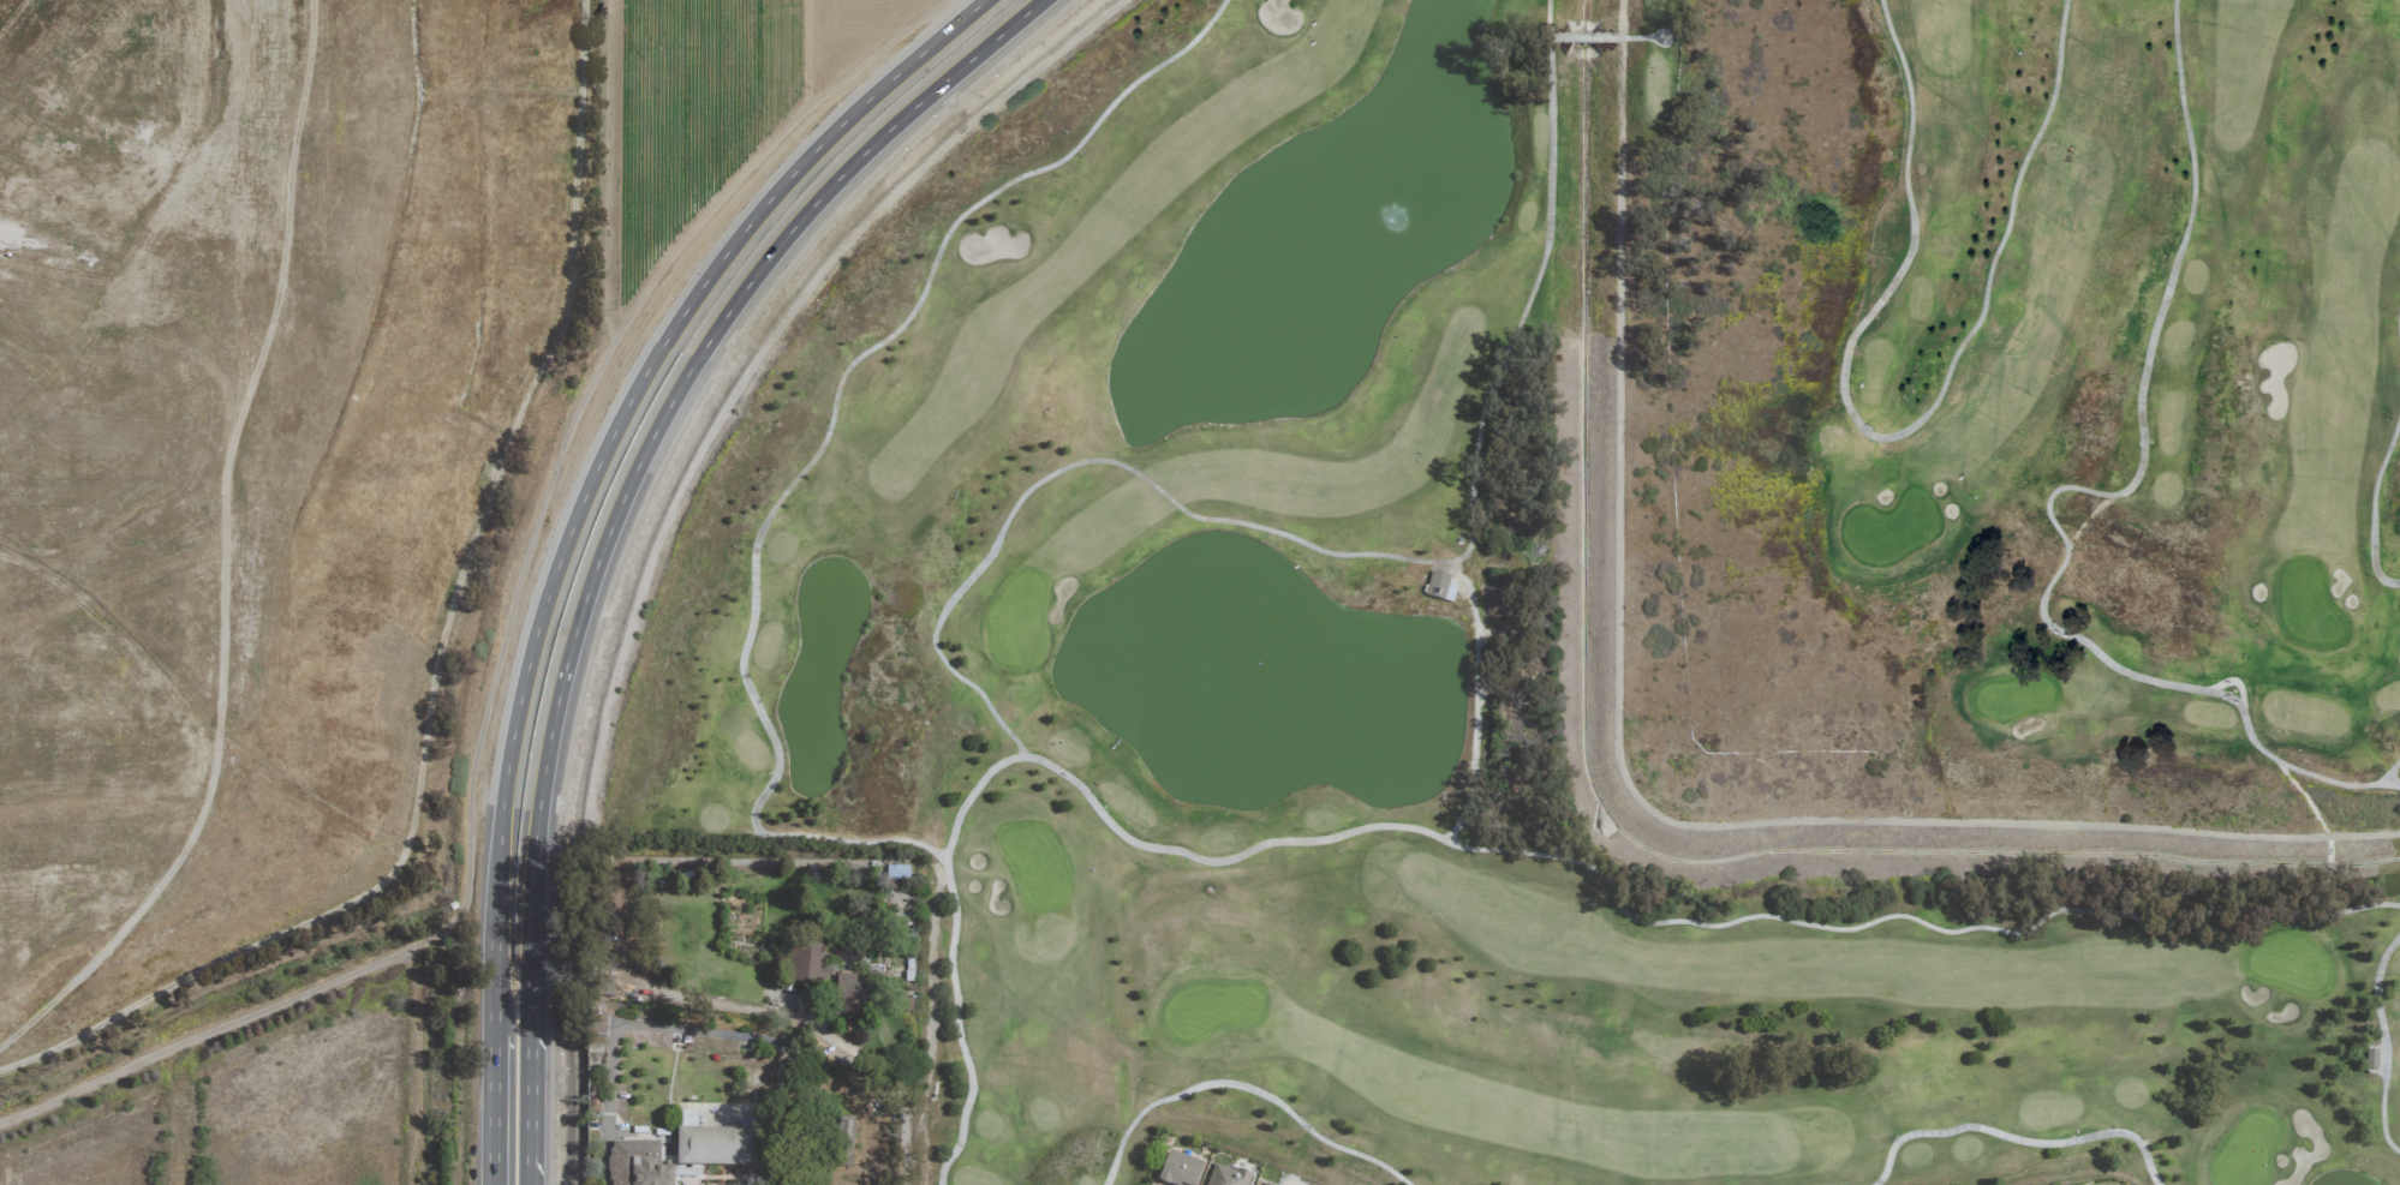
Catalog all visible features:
road: (1606, 38)
fountain: (1389, 221)
road: (2399, 325)
road: (753, 363)
road: (621, 414)
park: (246, 417)
road: (1888, 437)
road: (822, 443)
road: (2062, 487)
road: (2372, 502)
road: (614, 517)
road: (1351, 555)
building: (1440, 587)
park: (1600, 599)
fountain: (1272, 682)
road: (2237, 683)
road: (1476, 698)
road: (2388, 771)
road: (1628, 785)
road: (2309, 803)
road: (1476, 850)
road: (2329, 860)
road: (2324, 890)
building: (804, 968)
road: (494, 992)
building: (850, 997)
road: (2386, 1043)
building: (2371, 1059)
road: (1244, 1088)
crop: (258, 1096)
building: (593, 1103)
road: (492, 1111)
road: (2017, 1139)
building: (715, 1149)
building: (638, 1165)
building: (1180, 1171)
building: (1226, 1177)
road: (533, 1181)
building: (1267, 1184)

